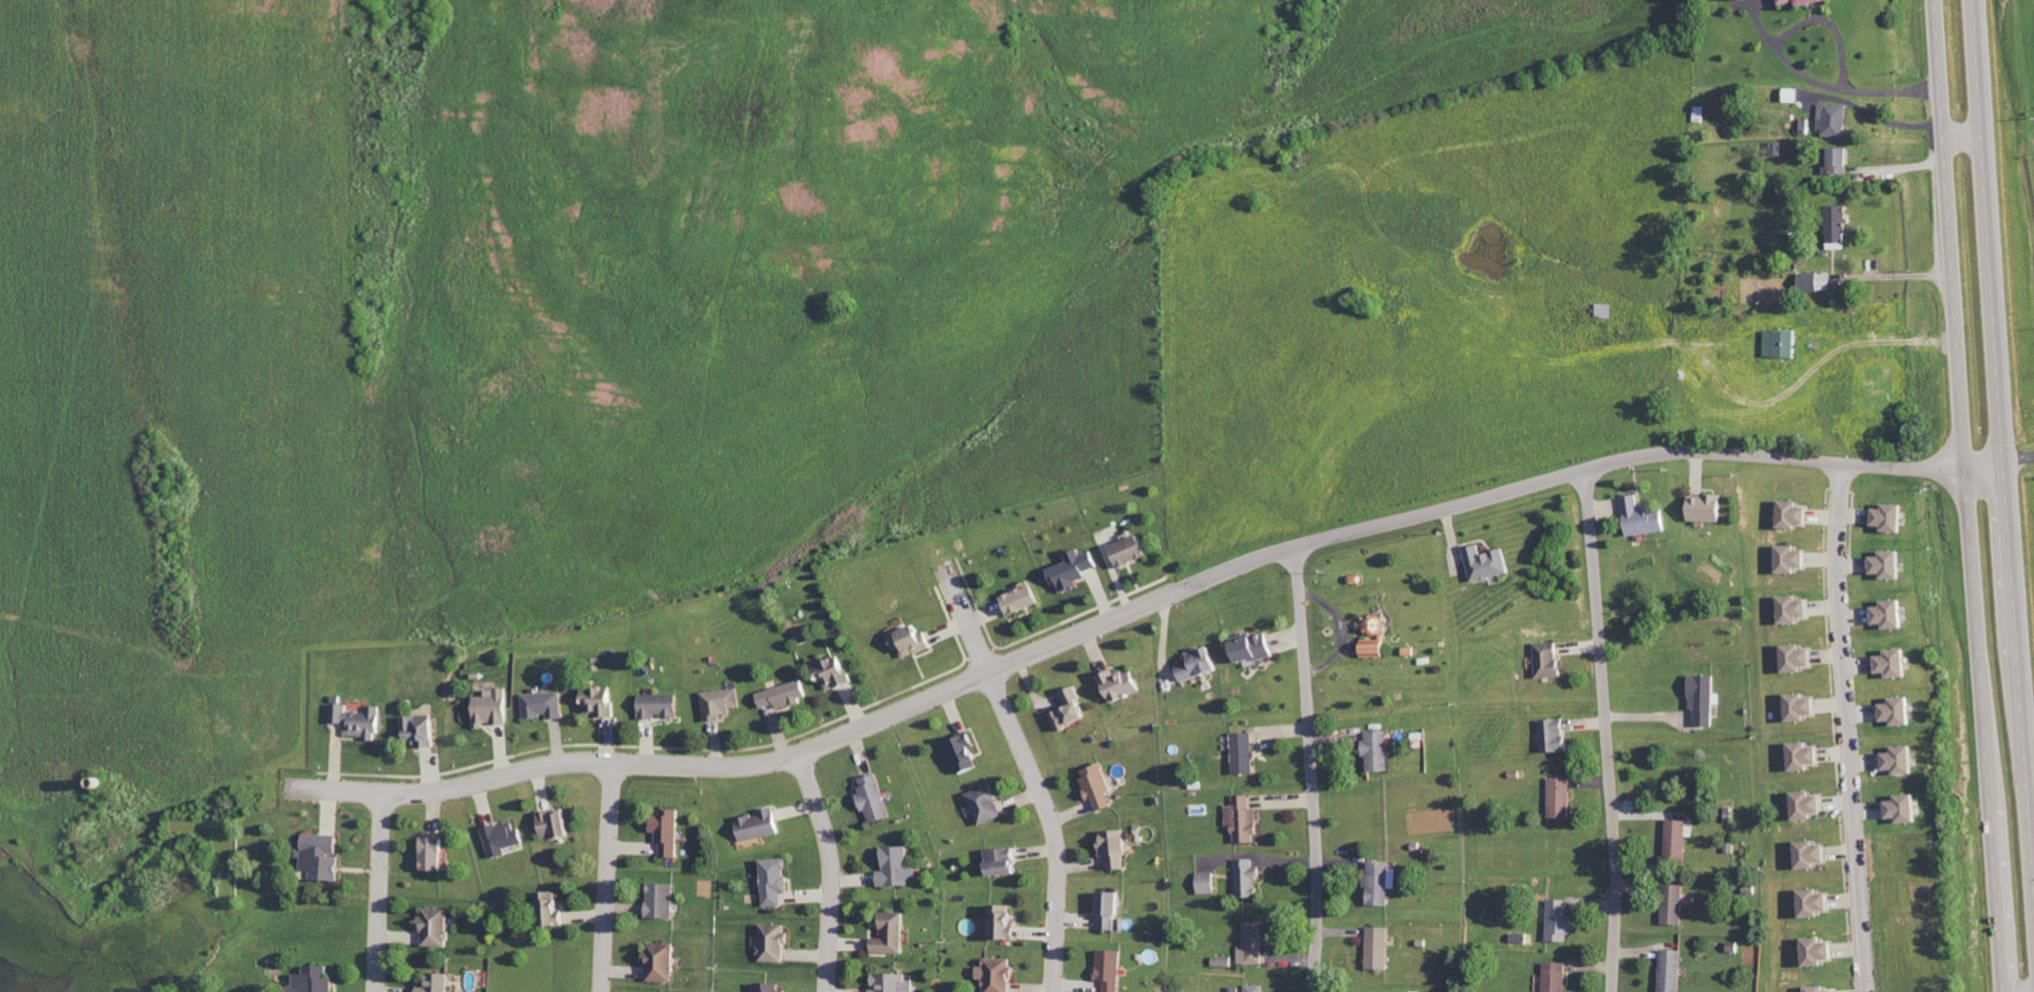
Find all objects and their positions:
road: (1830, 23)
road: (1823, 84)
road: (1872, 115)
building: (1830, 120)
building: (1832, 161)
building: (1832, 227)
road: (1892, 275)
building: (1810, 282)
building: (1606, 310)
building: (1774, 344)
road: (2002, 459)
road: (1983, 469)
road: (1965, 496)
building: (1708, 507)
building: (1796, 513)
building: (1894, 516)
building: (1645, 517)
building: (1131, 551)
building: (1796, 558)
building: (1488, 563)
building: (1893, 563)
building: (1074, 569)
road: (1165, 596)
building: (1024, 599)
building: (1798, 608)
building: (1895, 613)
building: (1375, 625)
building: (912, 641)
building: (1255, 648)
building: (1376, 648)
building: (1801, 657)
building: (1550, 659)
building: (1898, 662)
building: (1200, 664)
building: (836, 673)
building: (1122, 685)
building: (784, 694)
building: (1703, 700)
building: (602, 701)
building: (722, 702)
building: (544, 705)
building: (662, 705)
building: (1802, 706)
building: (494, 708)
building: (1072, 709)
building: (1902, 710)
building: (360, 721)
road: (1846, 728)
building: (423, 729)
road: (1603, 730)
building: (1556, 735)
building: (1378, 751)
building: (966, 753)
building: (1245, 753)
building: (1808, 755)
building: (1905, 759)
road: (1309, 768)
road: (1028, 770)
building: (1099, 786)
building: (1561, 797)
building: (875, 798)
building: (987, 804)
building: (1811, 804)
building: (1907, 808)
building: (1244, 819)
building: (556, 824)
building: (761, 825)
building: (669, 830)
building: (503, 839)
building: (1677, 840)
building: (1116, 847)
building: (436, 853)
building: (1813, 854)
building: (324, 856)
building: (1004, 861)
building: (898, 867)
road: (830, 871)
road: (608, 877)
building: (1248, 878)
building: (777, 880)
building: (1209, 882)
building: (1382, 882)
road: (377, 893)
building: (663, 900)
building: (1819, 902)
building: (1676, 904)
building: (551, 908)
building: (1111, 909)
building: (1560, 921)
building: (1004, 922)
building: (436, 927)
building: (893, 934)
building: (775, 942)
building: (1252, 944)
building: (1379, 948)
building: (1822, 951)
building: (663, 962)
building: (1112, 969)
building: (1672, 970)
building: (999, 974)
building: (1556, 977)
building: (316, 980)
building: (438, 983)
building: (893, 983)
building: (770, 987)
building: (1255, 988)
building: (1822, 989)

